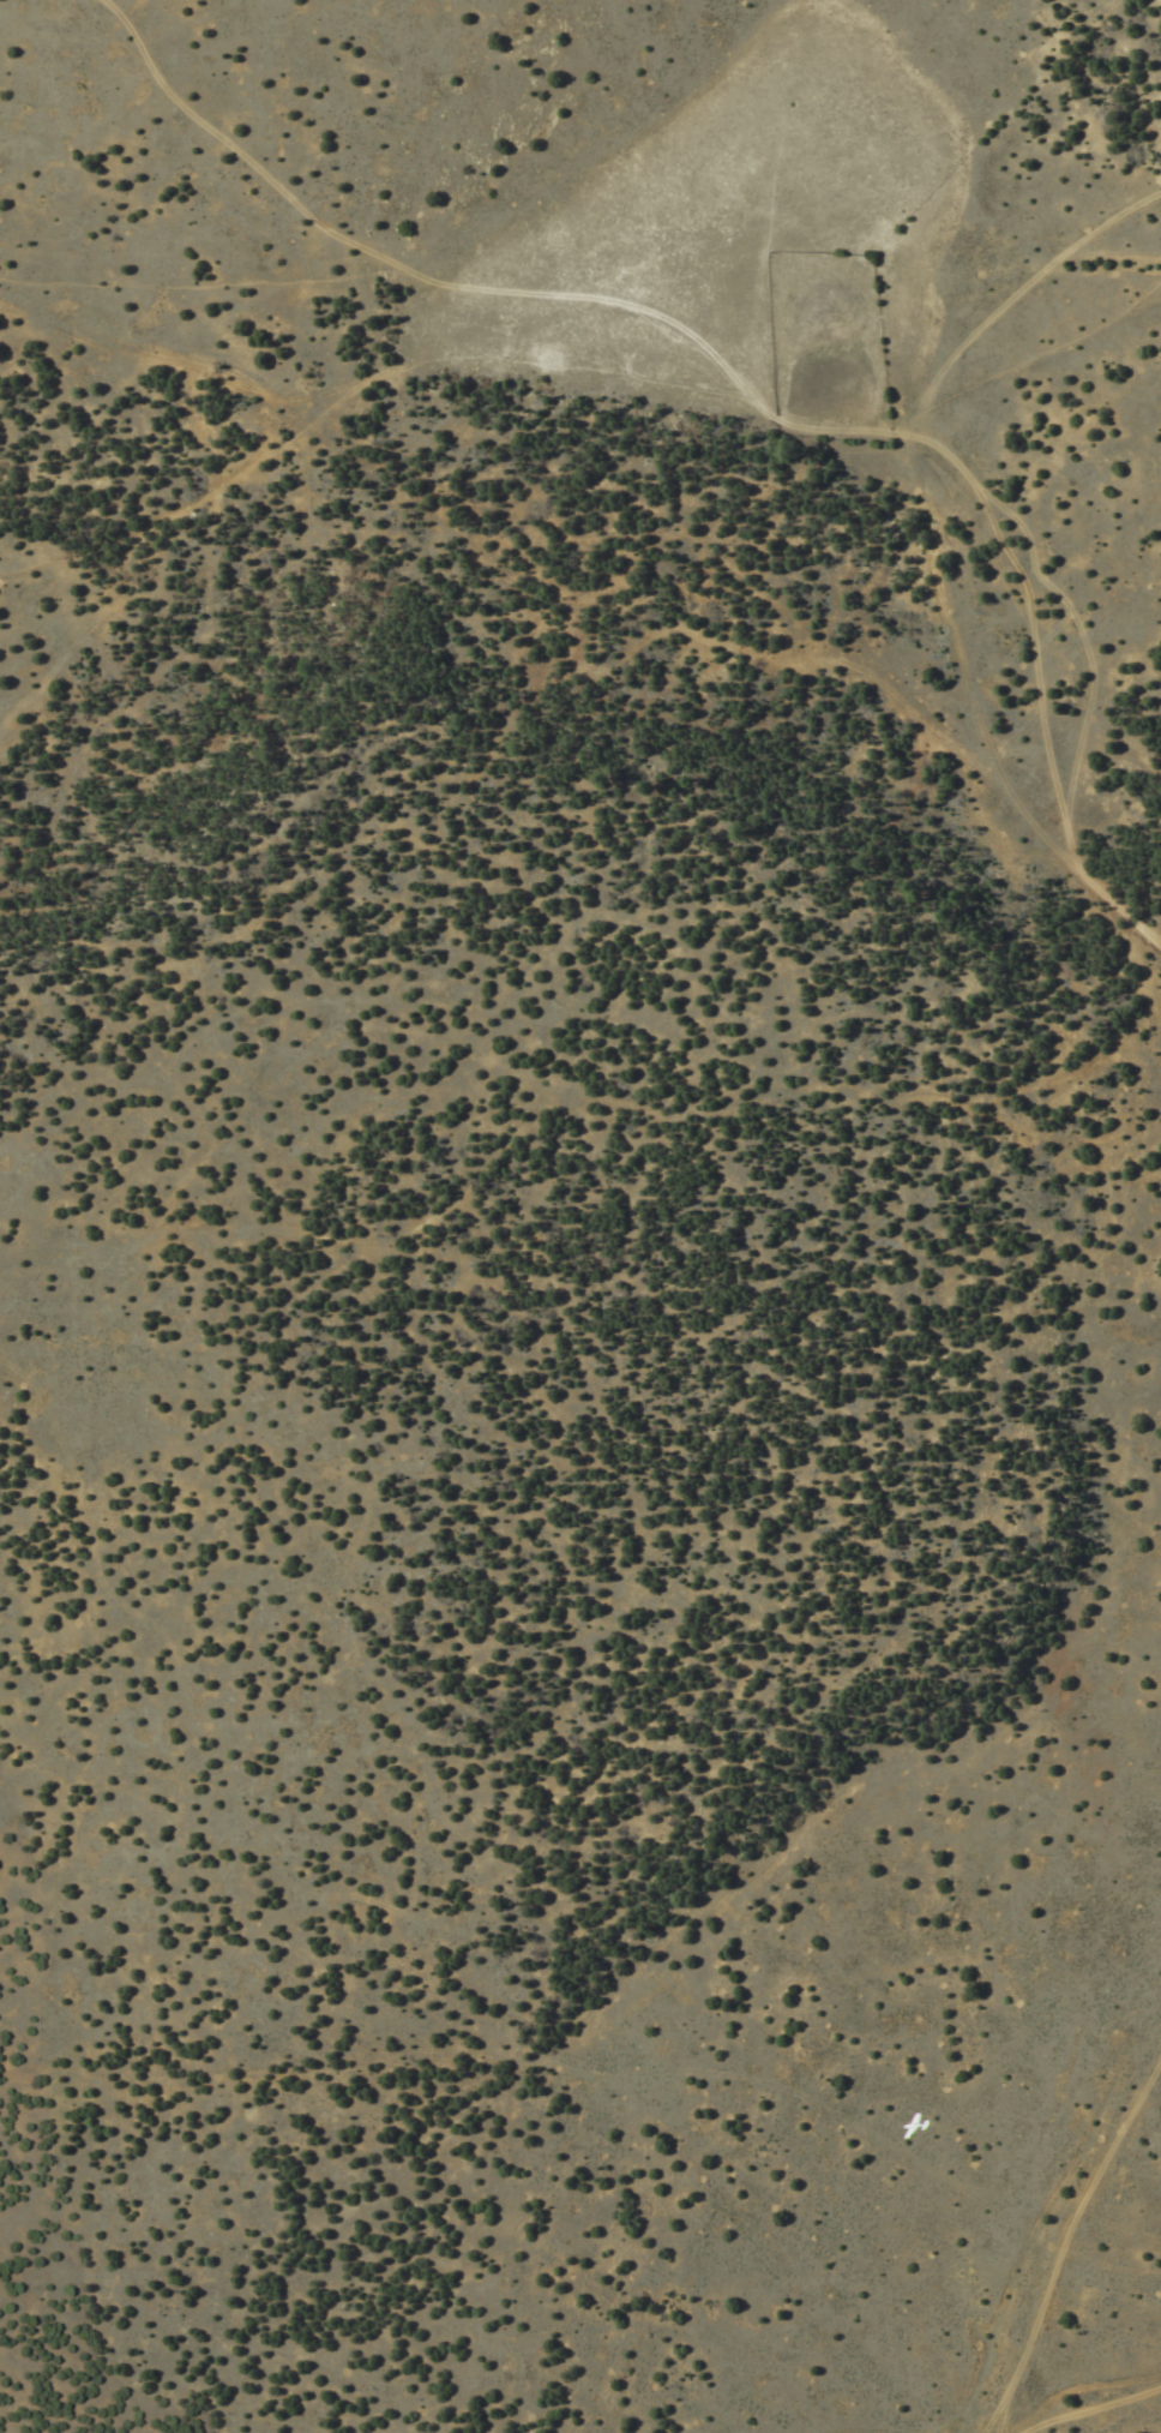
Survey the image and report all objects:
road: (1016, 298)
road: (742, 392)
road: (806, 2096)
road: (1051, 2218)
road: (1069, 2411)

